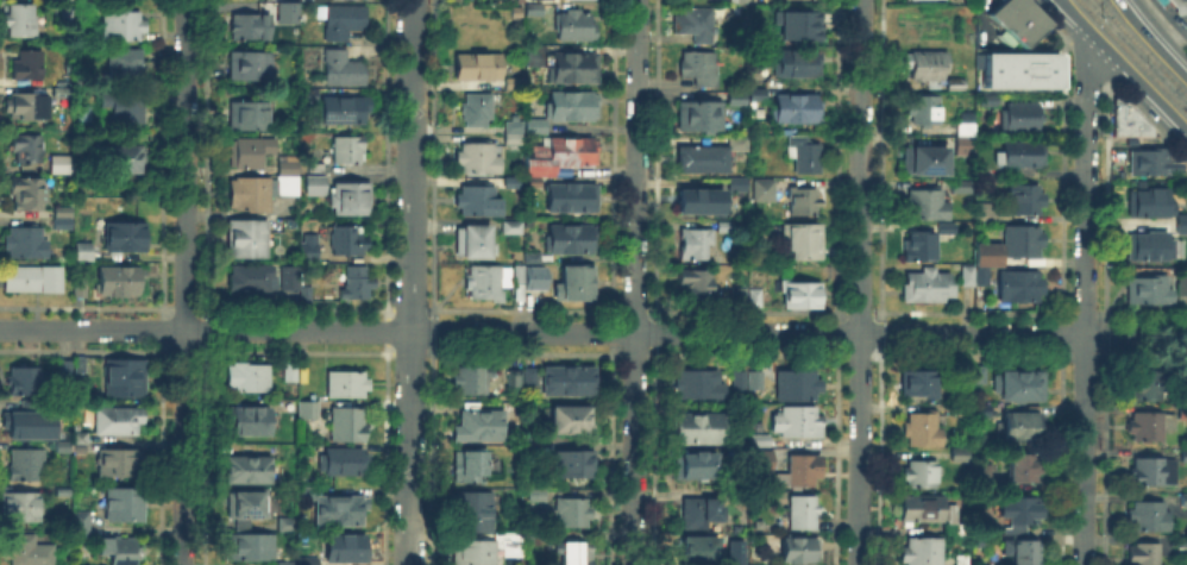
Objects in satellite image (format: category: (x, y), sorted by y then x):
building: (737, 0)
building: (1179, 5)
building: (532, 7)
building: (514, 10)
building: (285, 11)
building: (67, 14)
road: (1169, 18)
building: (21, 20)
building: (1016, 20)
building: (345, 21)
building: (120, 23)
building: (800, 24)
building: (247, 25)
building: (698, 25)
building: (576, 26)
road: (1163, 27)
road: (1151, 39)
railway: (1141, 48)
railway: (1132, 56)
road: (1085, 59)
building: (800, 64)
road: (1124, 64)
building: (29, 65)
building: (125, 65)
building: (567, 65)
building: (251, 67)
building: (479, 68)
building: (701, 68)
building: (1018, 69)
building: (344, 70)
building: (927, 71)
building: (957, 84)
building: (513, 86)
building: (64, 93)
building: (759, 95)
building: (309, 96)
building: (735, 98)
building: (991, 101)
building: (29, 106)
building: (572, 107)
building: (477, 108)
building: (797, 108)
building: (126, 109)
building: (925, 109)
building: (344, 111)
building: (702, 115)
building: (965, 115)
building: (249, 117)
building: (1020, 117)
building: (1123, 117)
road: (1148, 123)
building: (538, 127)
building: (962, 127)
building: (515, 138)
building: (962, 144)
building: (29, 149)
building: (348, 150)
road: (203, 153)
building: (246, 153)
road: (384, 153)
road: (432, 153)
building: (804, 153)
building: (1023, 155)
building: (710, 157)
building: (1147, 157)
building: (479, 158)
building: (923, 158)
building: (126, 159)
building: (558, 159)
building: (63, 165)
building: (318, 169)
building: (515, 183)
building: (318, 186)
building: (739, 186)
road: (1086, 186)
building: (962, 187)
building: (265, 188)
building: (765, 190)
building: (27, 194)
building: (1022, 195)
road: (1105, 197)
building: (351, 199)
building: (573, 199)
building: (1144, 199)
building: (478, 201)
building: (699, 202)
building: (805, 202)
building: (928, 205)
building: (987, 213)
building: (64, 219)
building: (1180, 219)
building: (288, 221)
building: (726, 227)
building: (513, 228)
building: (947, 230)
road: (161, 233)
building: (125, 238)
building: (249, 239)
building: (571, 239)
building: (348, 240)
building: (805, 240)
building: (1023, 241)
building: (1145, 241)
building: (25, 243)
building: (473, 244)
building: (696, 244)
road: (613, 245)
building: (921, 246)
building: (309, 249)
building: (83, 252)
building: (990, 256)
building: (528, 274)
building: (247, 275)
building: (285, 276)
building: (976, 276)
building: (33, 280)
building: (120, 281)
building: (1180, 281)
road: (184, 282)
road: (410, 282)
building: (488, 282)
road: (636, 282)
road: (860, 282)
building: (357, 283)
building: (698, 283)
building: (574, 284)
building: (1020, 285)
building: (1144, 285)
building: (929, 287)
building: (302, 291)
building: (78, 293)
building: (802, 295)
building: (739, 296)
building: (756, 299)
road: (182, 307)
road: (294, 307)
road: (408, 308)
road: (635, 309)
road: (203, 310)
road: (747, 310)
road: (859, 310)
road: (161, 312)
road: (976, 312)
road: (1082, 313)
road: (1145, 313)
road: (161, 329)
road: (203, 329)
road: (384, 329)
road: (432, 329)
road: (613, 331)
road: (657, 331)
road: (592, 332)
road: (1061, 333)
road: (1105, 334)
road: (162, 346)
road: (203, 347)
road: (165, 351)
road: (183, 351)
road: (200, 351)
road: (294, 351)
road: (409, 352)
road: (746, 352)
road: (859, 352)
road: (634, 353)
road: (971, 353)
road: (1082, 354)
building: (80, 365)
road: (432, 369)
building: (63, 370)
building: (291, 372)
road: (161, 377)
building: (250, 377)
building: (126, 378)
building: (532, 378)
building: (472, 381)
building: (515, 381)
building: (758, 381)
building: (1143, 381)
building: (24, 382)
building: (570, 382)
building: (740, 382)
building: (974, 383)
building: (347, 384)
building: (921, 384)
building: (702, 385)
building: (798, 385)
building: (1023, 387)
building: (309, 410)
building: (736, 412)
building: (984, 412)
road: (1104, 419)
building: (252, 420)
building: (119, 421)
building: (574, 421)
building: (1142, 421)
building: (27, 422)
building: (798, 422)
building: (479, 425)
building: (348, 426)
building: (1023, 427)
building: (699, 429)
building: (924, 431)
building: (82, 438)
building: (761, 441)
building: (64, 447)
building: (535, 447)
road: (1084, 451)
building: (1182, 451)
building: (961, 454)
road: (202, 458)
road: (384, 458)
road: (654, 458)
road: (836, 458)
road: (879, 458)
road: (611, 459)
road: (1060, 459)
building: (346, 462)
building: (762, 462)
building: (121, 464)
building: (576, 464)
building: (26, 465)
building: (471, 466)
building: (1149, 466)
building: (695, 467)
building: (1024, 469)
building: (250, 471)
building: (799, 472)
building: (922, 475)
building: (984, 476)
building: (538, 495)
building: (1182, 495)
building: (125, 506)
building: (21, 507)
building: (247, 507)
building: (337, 508)
building: (923, 509)
building: (473, 513)
building: (574, 513)
building: (803, 513)
building: (702, 514)
building: (1147, 514)
building: (1019, 515)
building: (288, 525)
building: (83, 526)
building: (1180, 544)
building: (347, 548)
building: (253, 550)
building: (489, 550)
building: (699, 550)
building: (793, 550)
building: (1017, 550)
building: (30, 552)
building: (124, 552)
building: (924, 552)
building: (1138, 552)
building: (578, 554)
building: (962, 560)
building: (309, 561)
building: (734, 563)
building: (753, 564)

